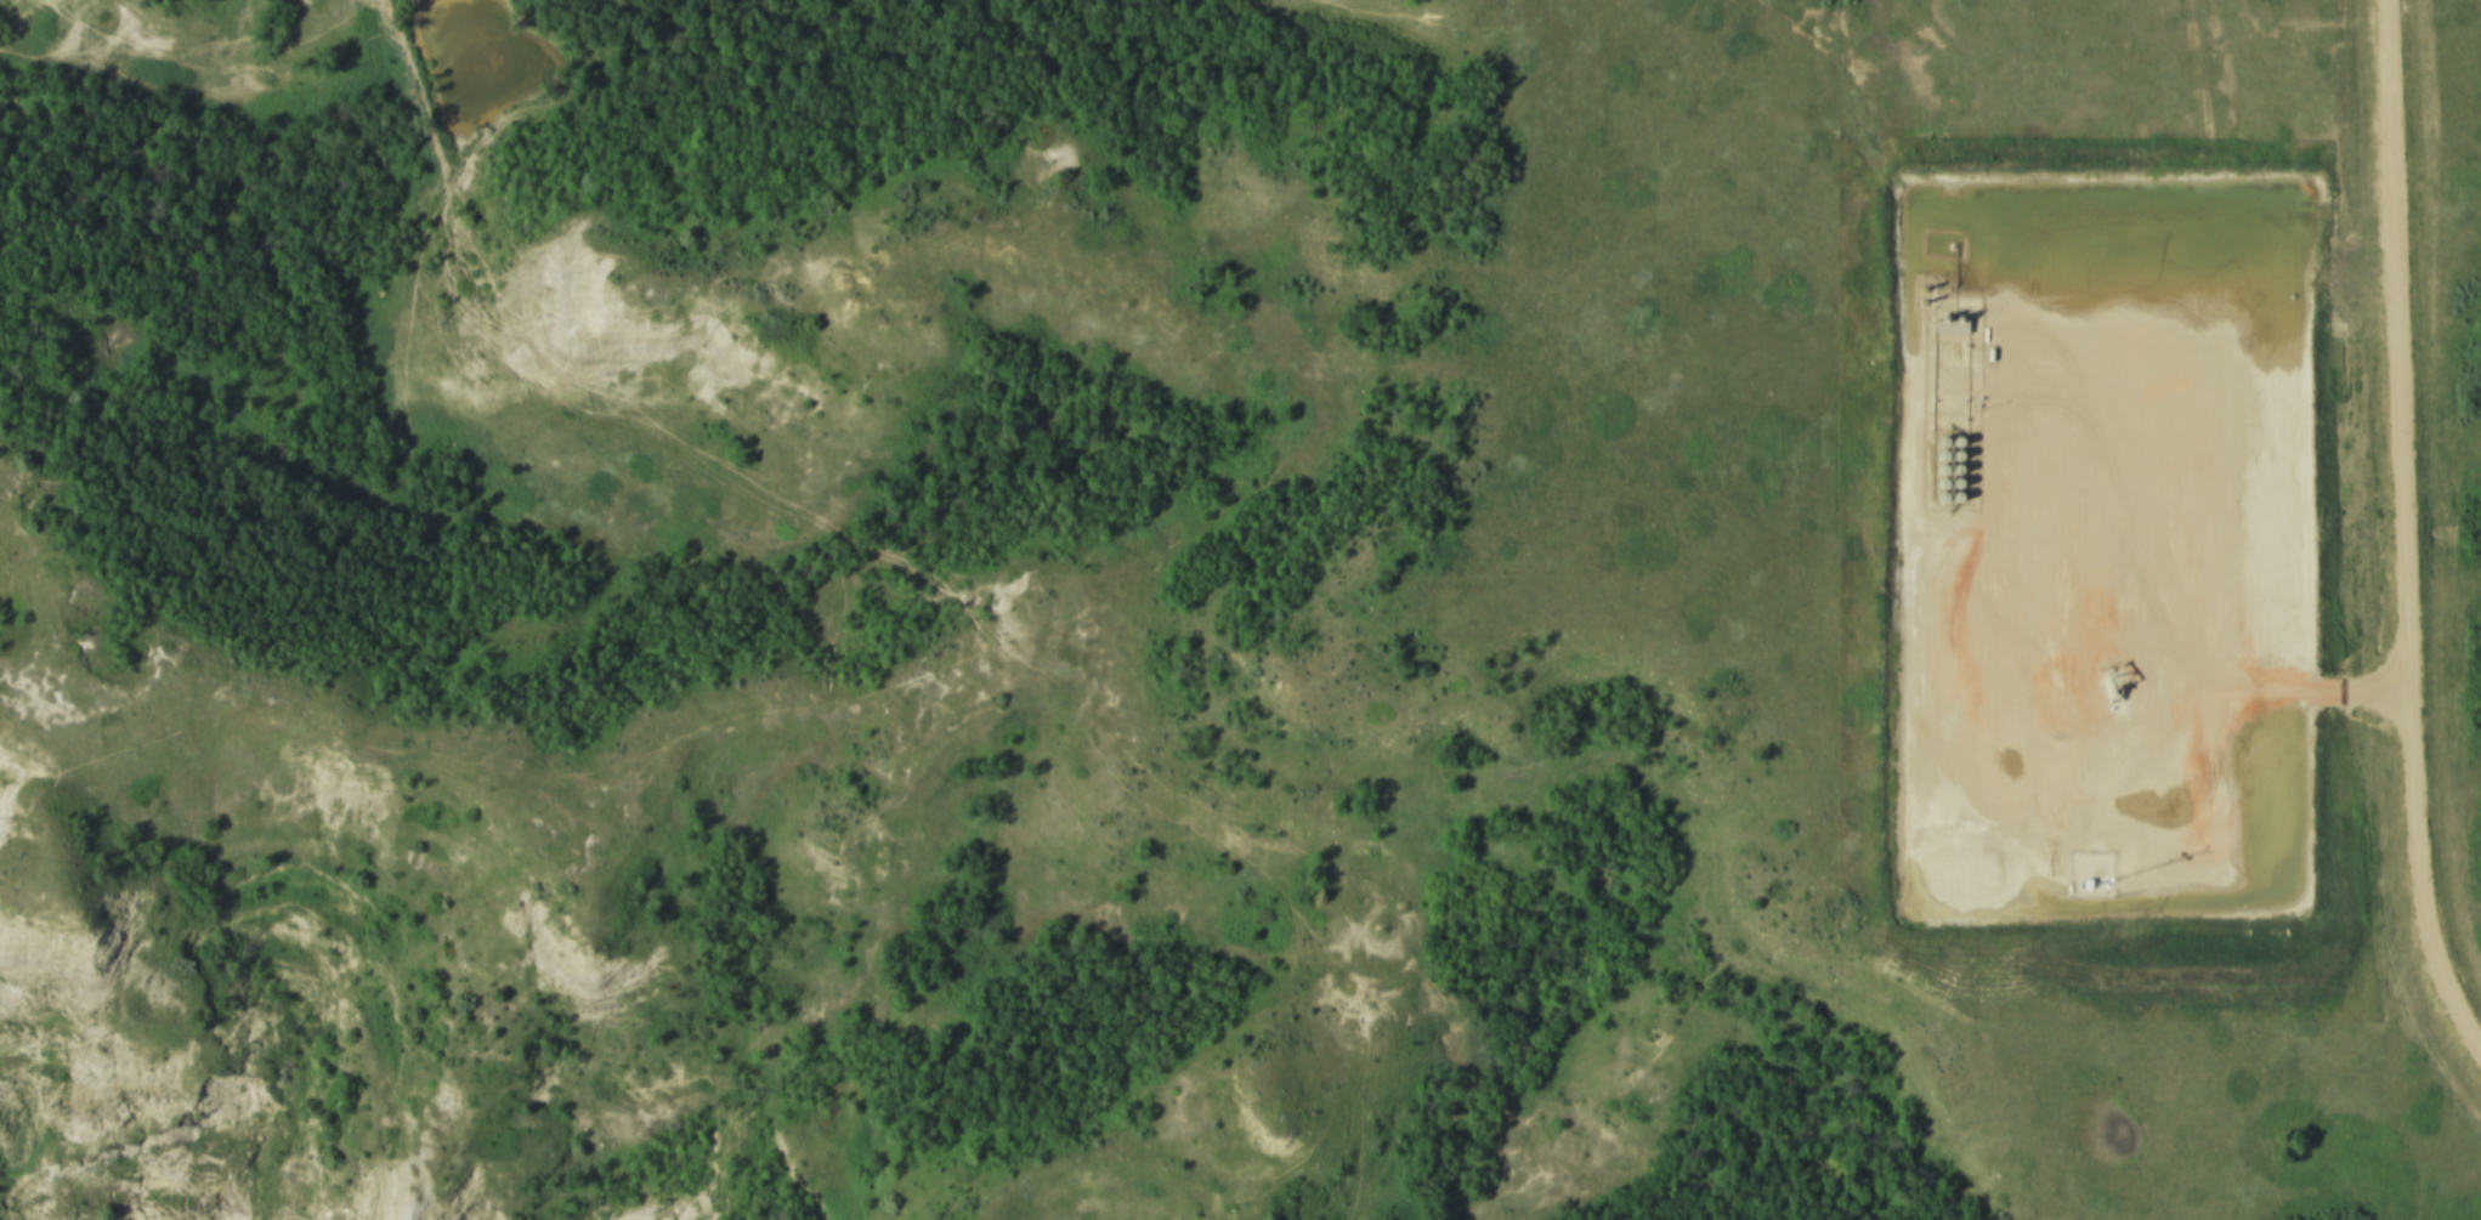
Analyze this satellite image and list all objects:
building: (1949, 441)
storage tank: (1949, 441)
building: (1933, 443)
storage tank: (1933, 443)
building: (1935, 455)
storage tank: (1935, 455)
building: (1950, 455)
storage tank: (1950, 455)
building: (1949, 469)
storage tank: (1949, 469)
building: (1935, 470)
storage tank: (1935, 470)
building: (1933, 483)
storage tank: (1933, 483)
building: (1948, 483)
storage tank: (1948, 483)
building: (1933, 498)
storage tank: (1933, 498)
building: (1949, 498)
storage tank: (1949, 498)
road: (2396, 540)
petroleum well: (2108, 688)

